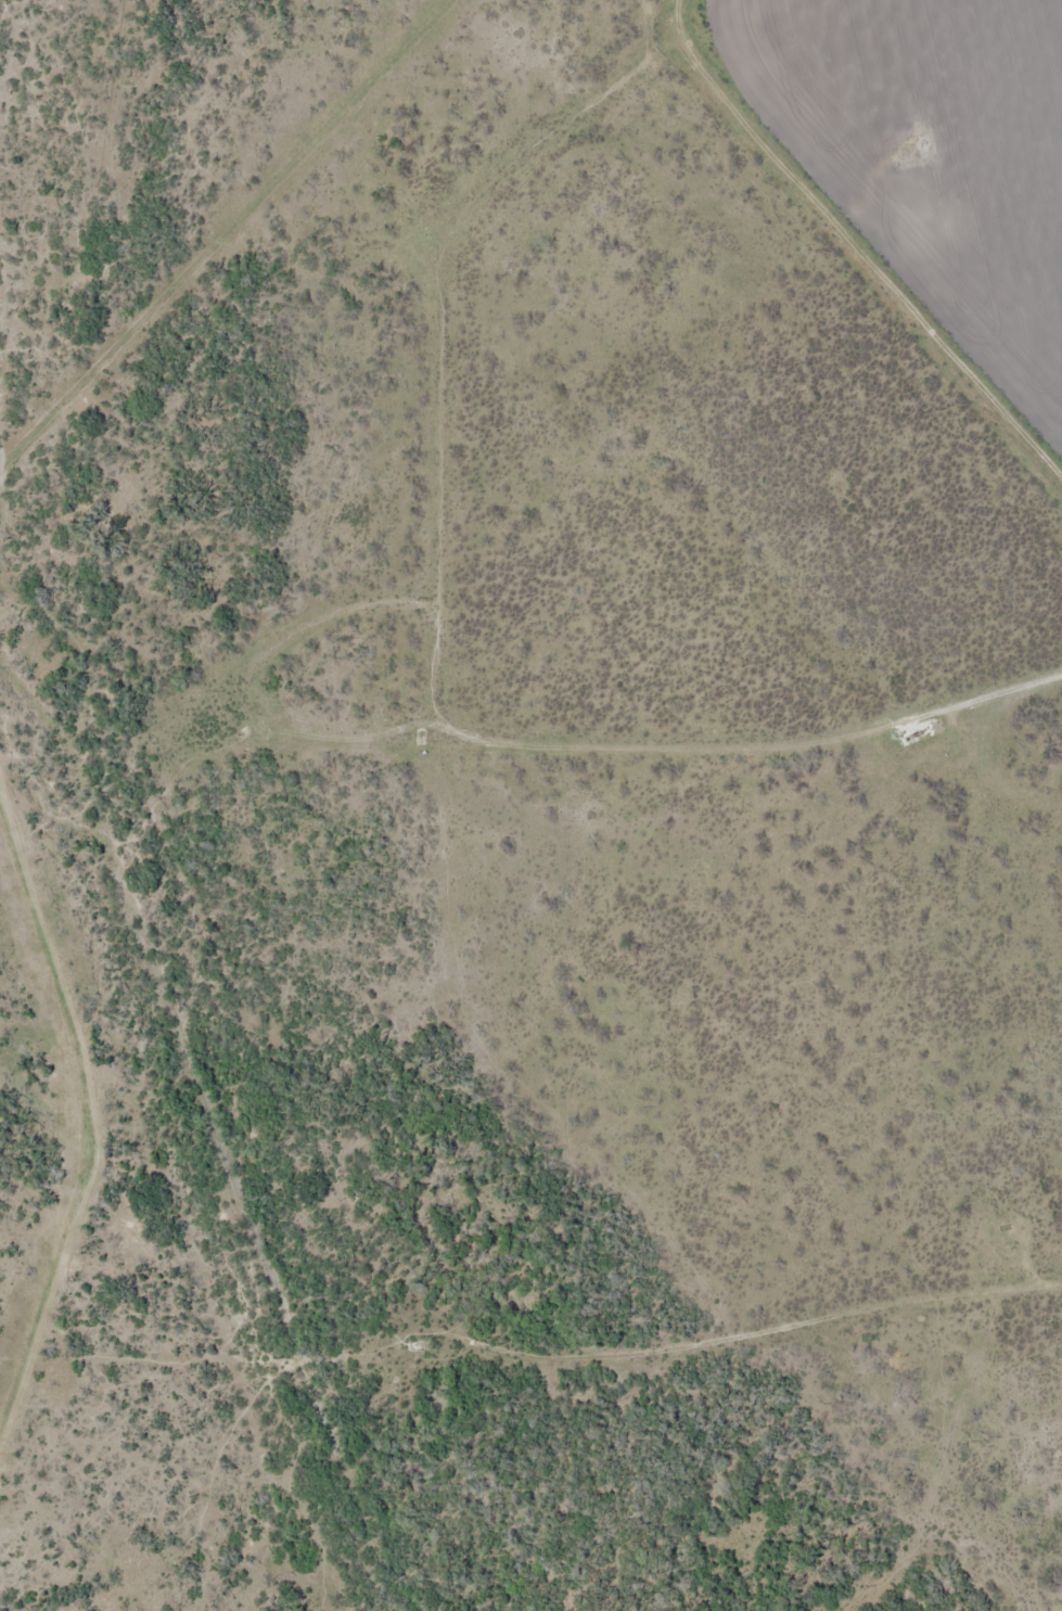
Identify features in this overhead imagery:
road: (883, 223)
road: (435, 590)

